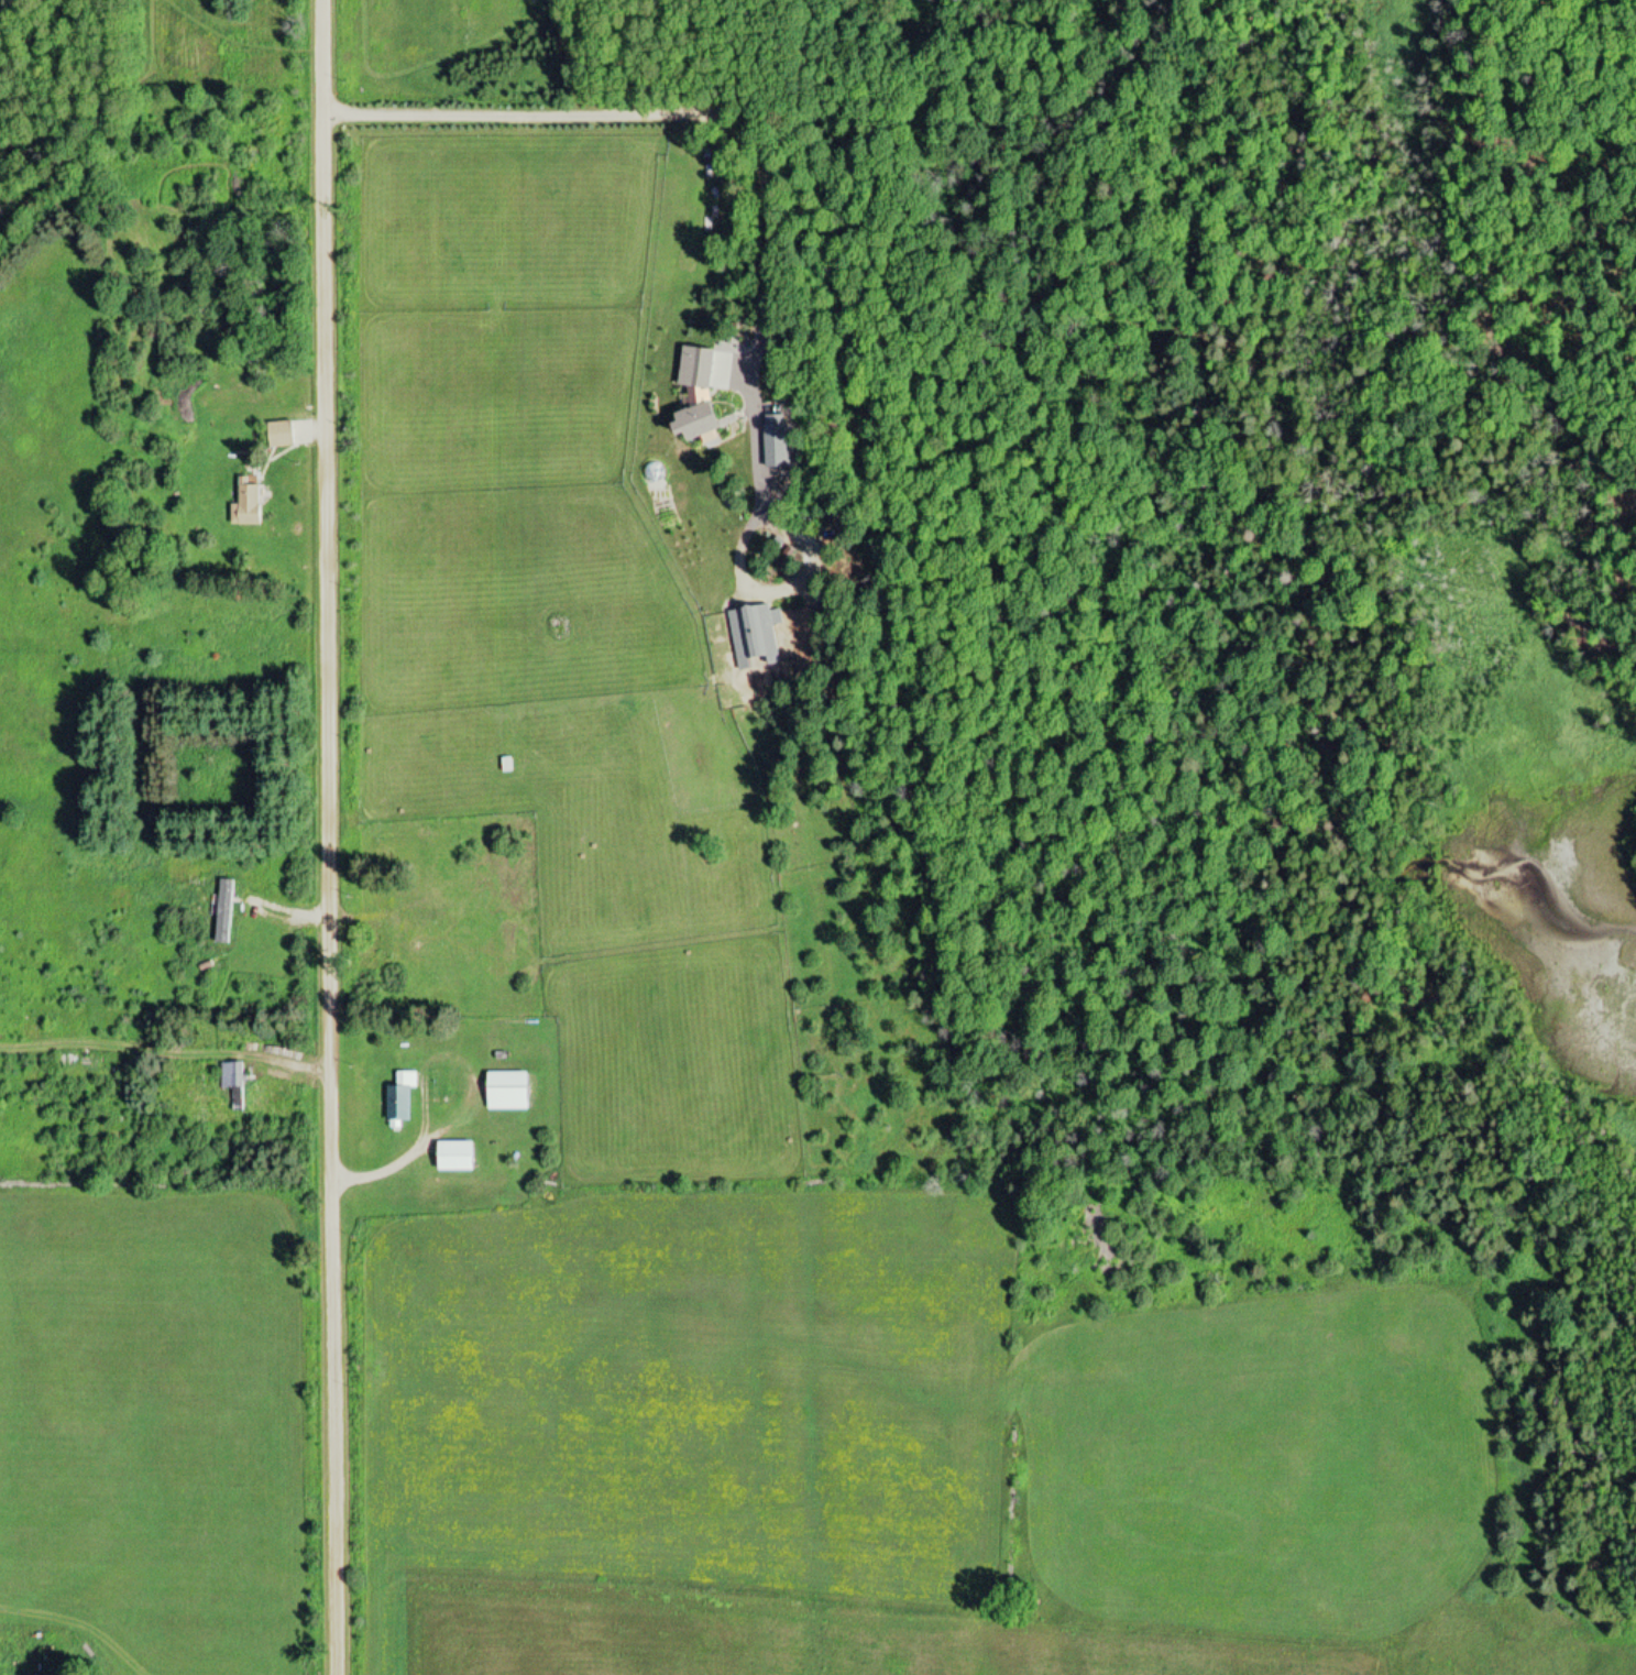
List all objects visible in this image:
building: (279, 435)
building: (245, 504)
road: (330, 837)
building: (473, 885)
building: (222, 912)
building: (408, 950)
building: (232, 1084)
building: (504, 1093)
building: (399, 1098)
building: (452, 1158)

